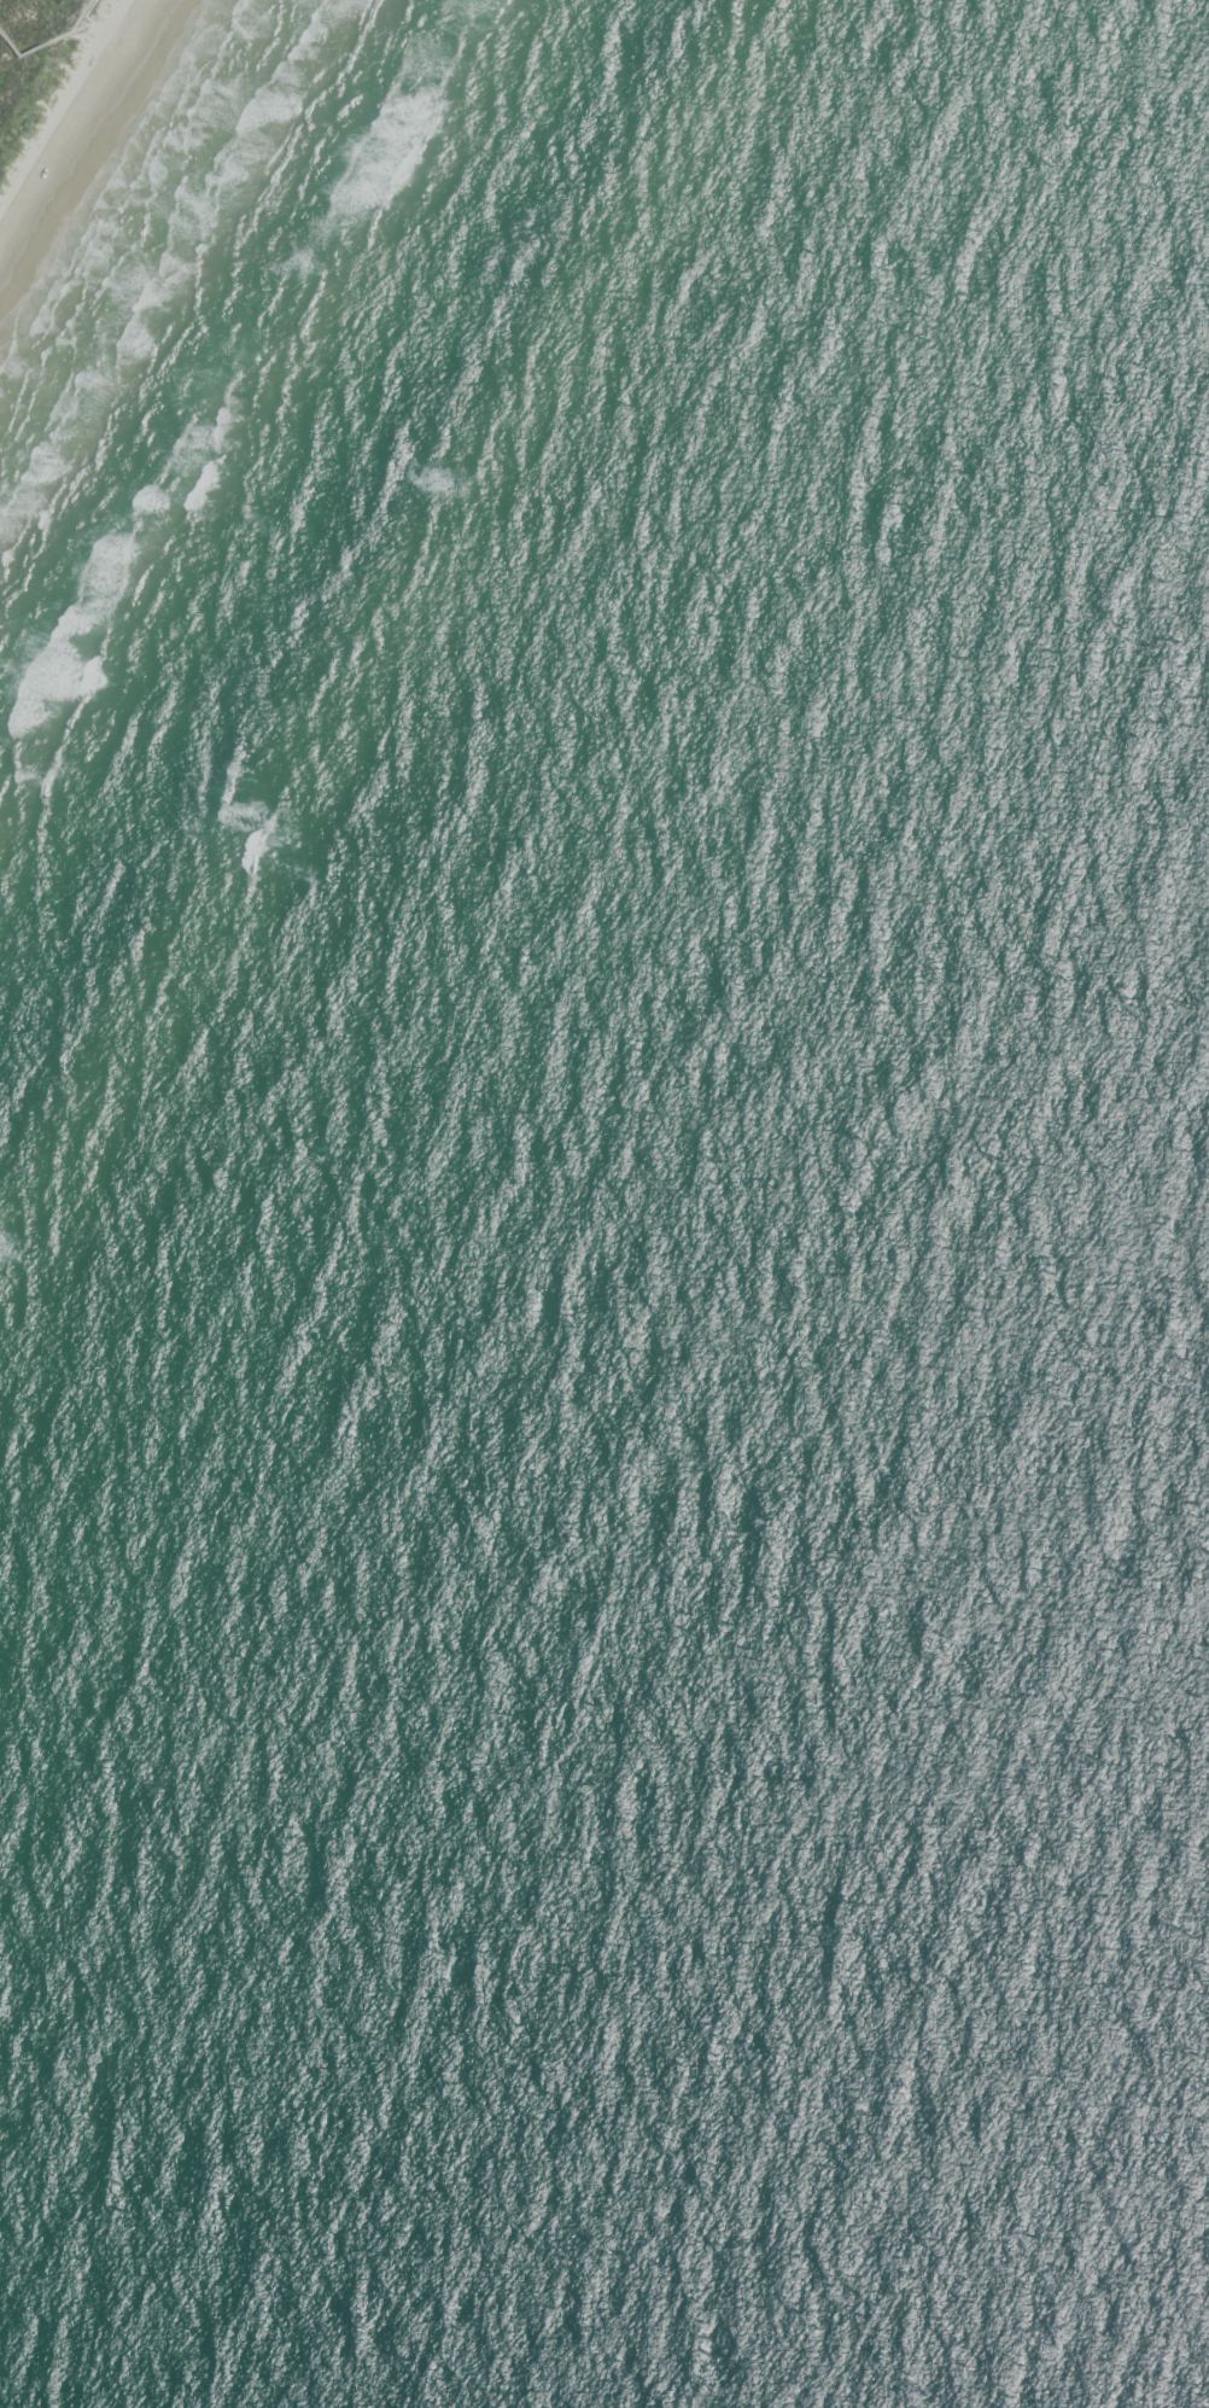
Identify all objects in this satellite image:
road: (90, 11)
road: (49, 42)
road: (72, 118)

